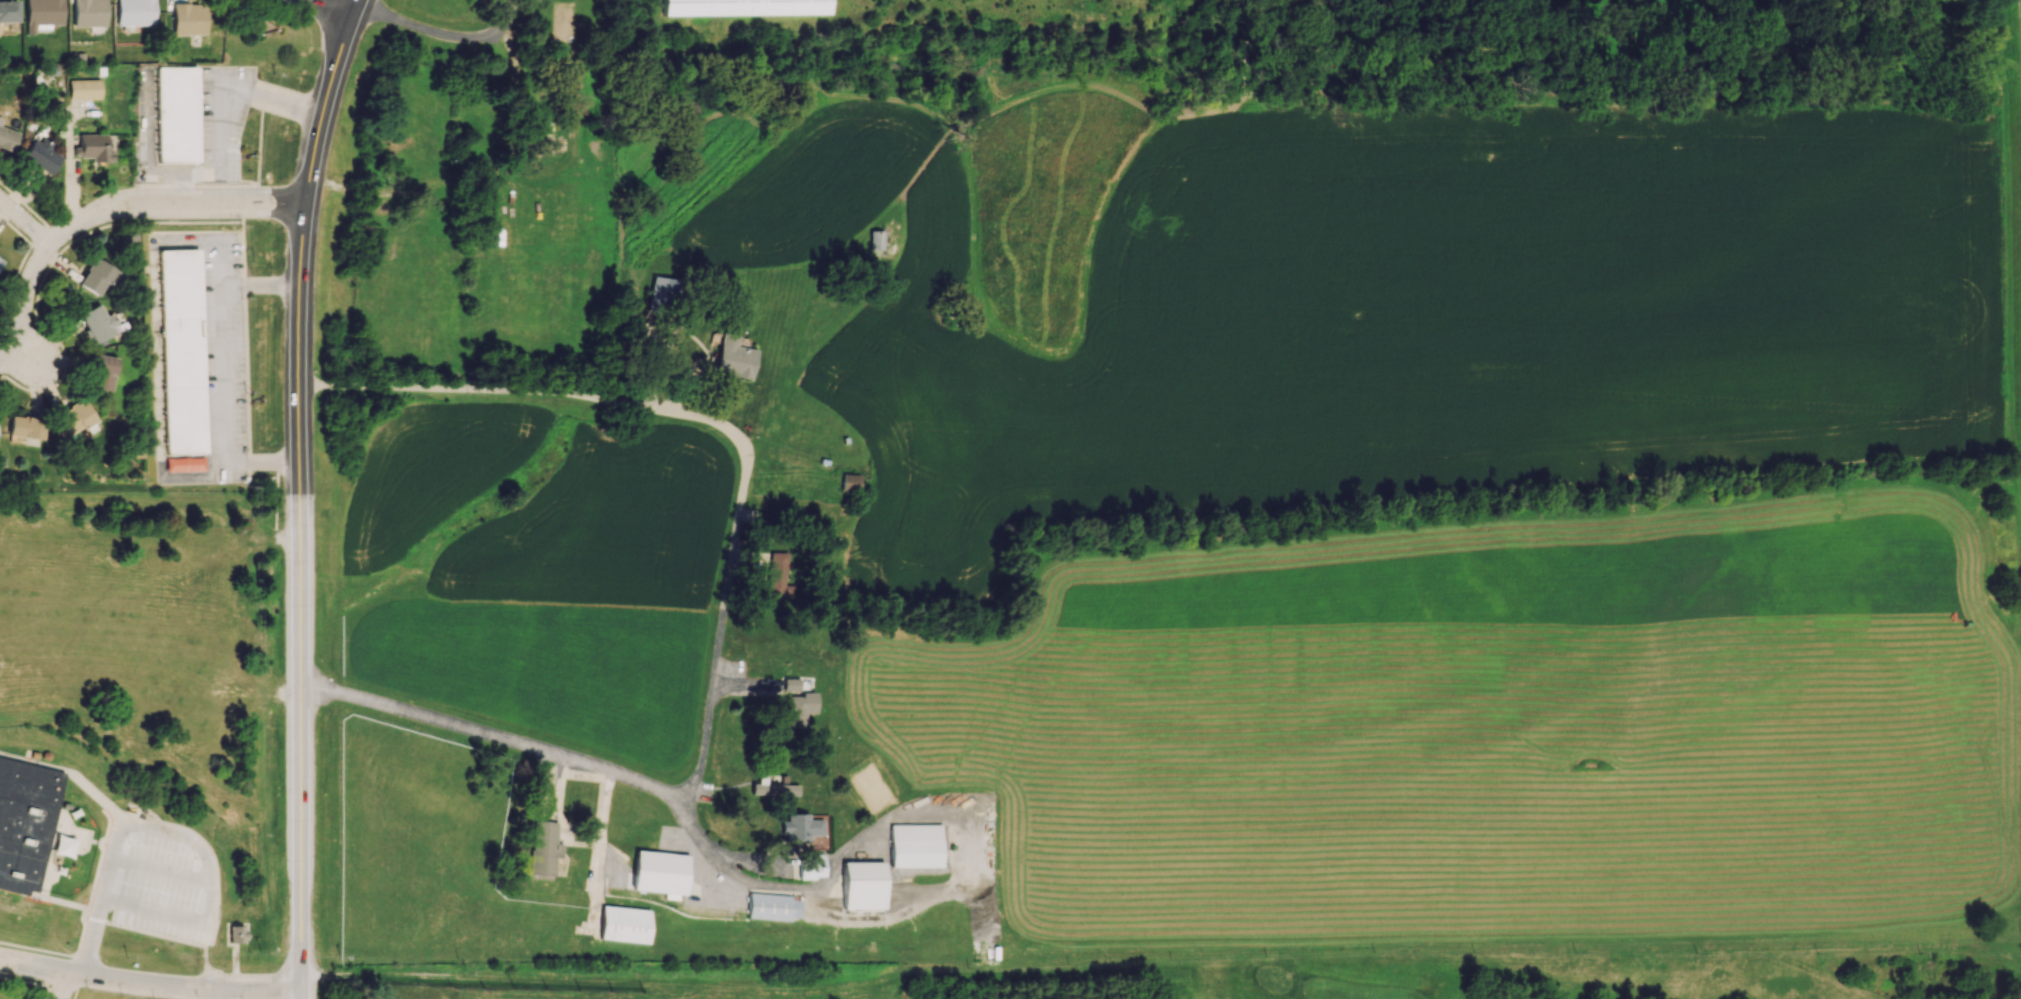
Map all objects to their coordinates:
road: (181, 1)
road: (1265, 3)
building: (746, 8)
building: (7, 10)
road: (323, 10)
building: (88, 12)
building: (134, 13)
building: (41, 14)
road: (1265, 15)
road: (1257, 16)
building: (188, 19)
road: (1260, 24)
road: (444, 37)
road: (1408, 61)
road: (1247, 64)
road: (220, 80)
building: (83, 89)
road: (220, 109)
building: (175, 113)
building: (0, 118)
road: (149, 134)
building: (7, 138)
building: (93, 148)
road: (258, 148)
road: (68, 154)
building: (40, 156)
road: (227, 177)
road: (198, 184)
road: (189, 190)
road: (23, 202)
road: (159, 214)
road: (272, 215)
road: (24, 225)
road: (15, 228)
road: (38, 232)
building: (875, 240)
road: (241, 244)
road: (38, 246)
road: (154, 250)
road: (50, 254)
building: (0, 262)
road: (64, 264)
road: (48, 265)
building: (95, 276)
road: (243, 283)
road: (257, 284)
road: (12, 286)
road: (31, 287)
building: (662, 294)
building: (96, 323)
building: (181, 350)
building: (733, 358)
road: (29, 359)
building: (101, 372)
road: (245, 373)
building: (74, 417)
road: (711, 424)
building: (25, 427)
road: (248, 461)
road: (258, 463)
building: (183, 464)
road: (248, 476)
building: (849, 482)
road: (296, 490)
road: (276, 501)
road: (118, 536)
road: (285, 539)
building: (779, 575)
road: (161, 612)
crop: (546, 668)
building: (789, 684)
road: (237, 696)
building: (797, 709)
road: (490, 739)
building: (772, 788)
building: (25, 822)
building: (799, 826)
building: (914, 845)
building: (543, 848)
road: (207, 859)
building: (809, 866)
road: (161, 867)
building: (658, 872)
building: (861, 885)
parking lot: (161, 888)
road: (56, 899)
road: (919, 901)
building: (771, 906)
road: (89, 917)
building: (624, 924)
building: (234, 934)
road: (90, 936)
road: (78, 942)
road: (29, 950)
building: (1265, 957)
road: (234, 966)
park: (1380, 974)
road: (32, 983)
road: (148, 985)
road: (65, 986)
road: (76, 987)
road: (47, 992)
road: (300, 994)
road: (360, 994)

